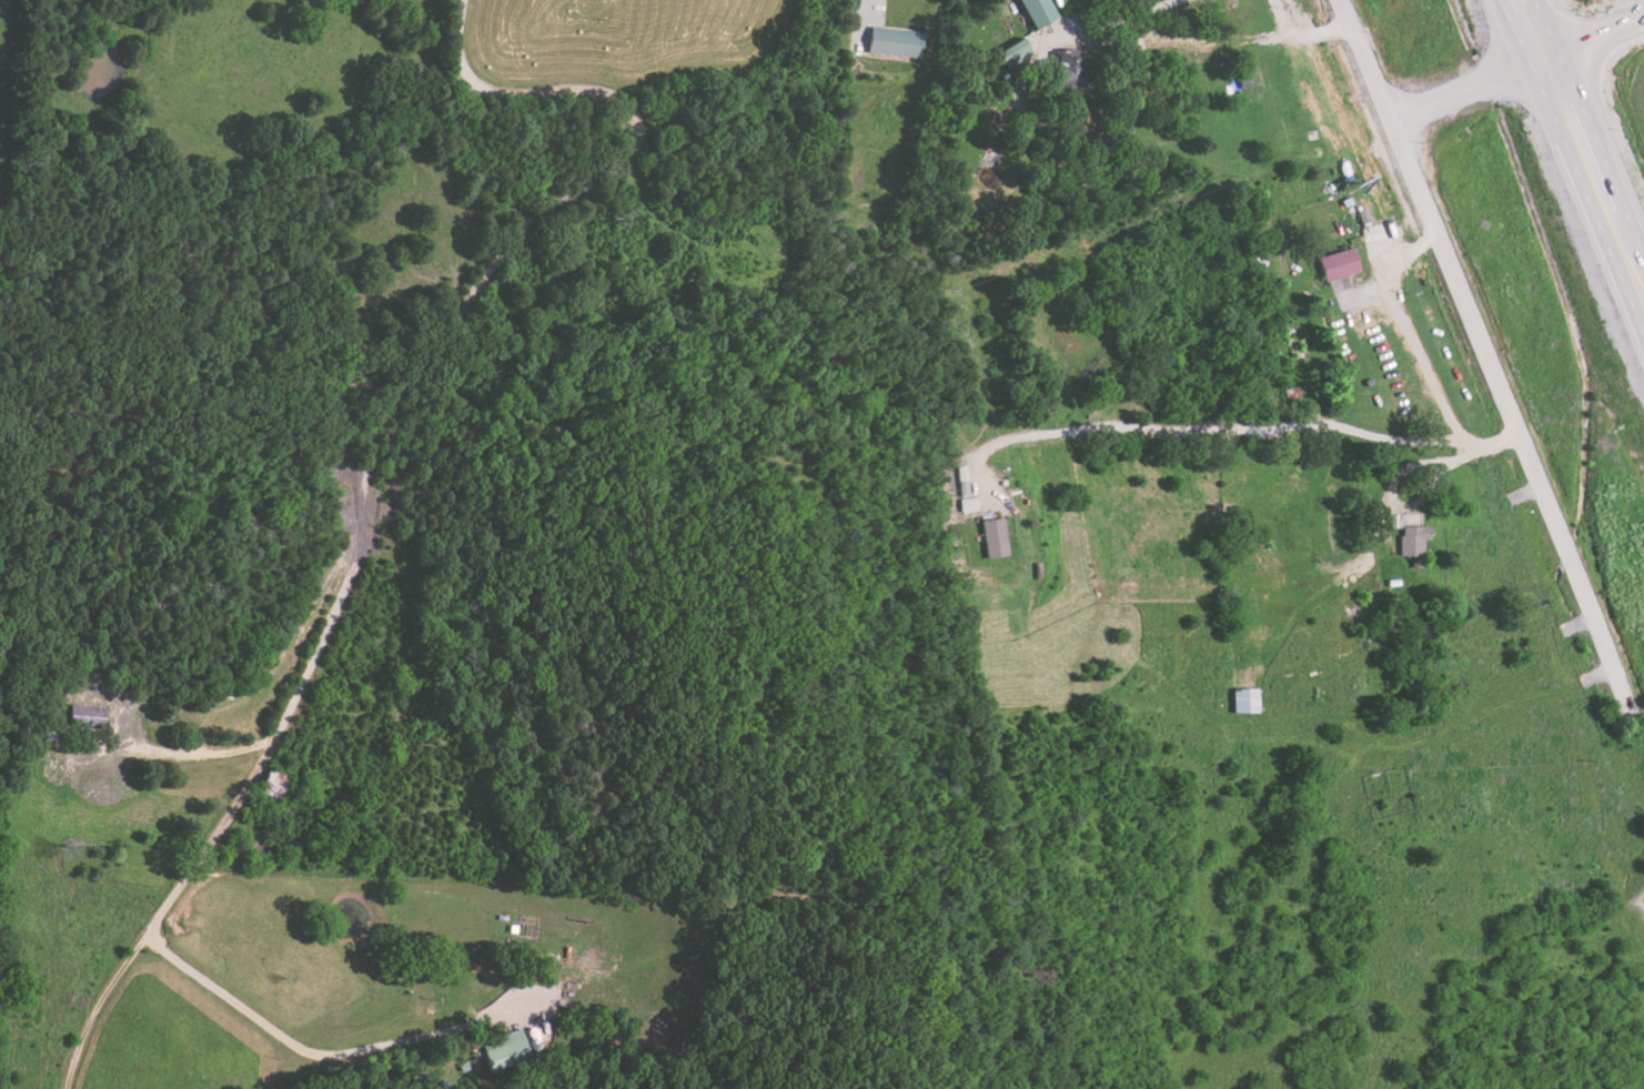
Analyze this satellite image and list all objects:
building: (1037, 12)
road: (857, 19)
road: (1226, 40)
building: (894, 42)
building: (1012, 53)
building: (1071, 68)
road: (1523, 73)
road: (1587, 134)
road: (1572, 172)
building: (1337, 264)
road: (1632, 280)
road: (1401, 326)
road: (1499, 357)
road: (1265, 435)
road: (373, 462)
building: (970, 504)
building: (994, 537)
building: (1410, 540)
building: (1242, 700)
building: (87, 717)
road: (186, 755)
building: (273, 782)
building: (503, 1051)
road: (316, 1055)

